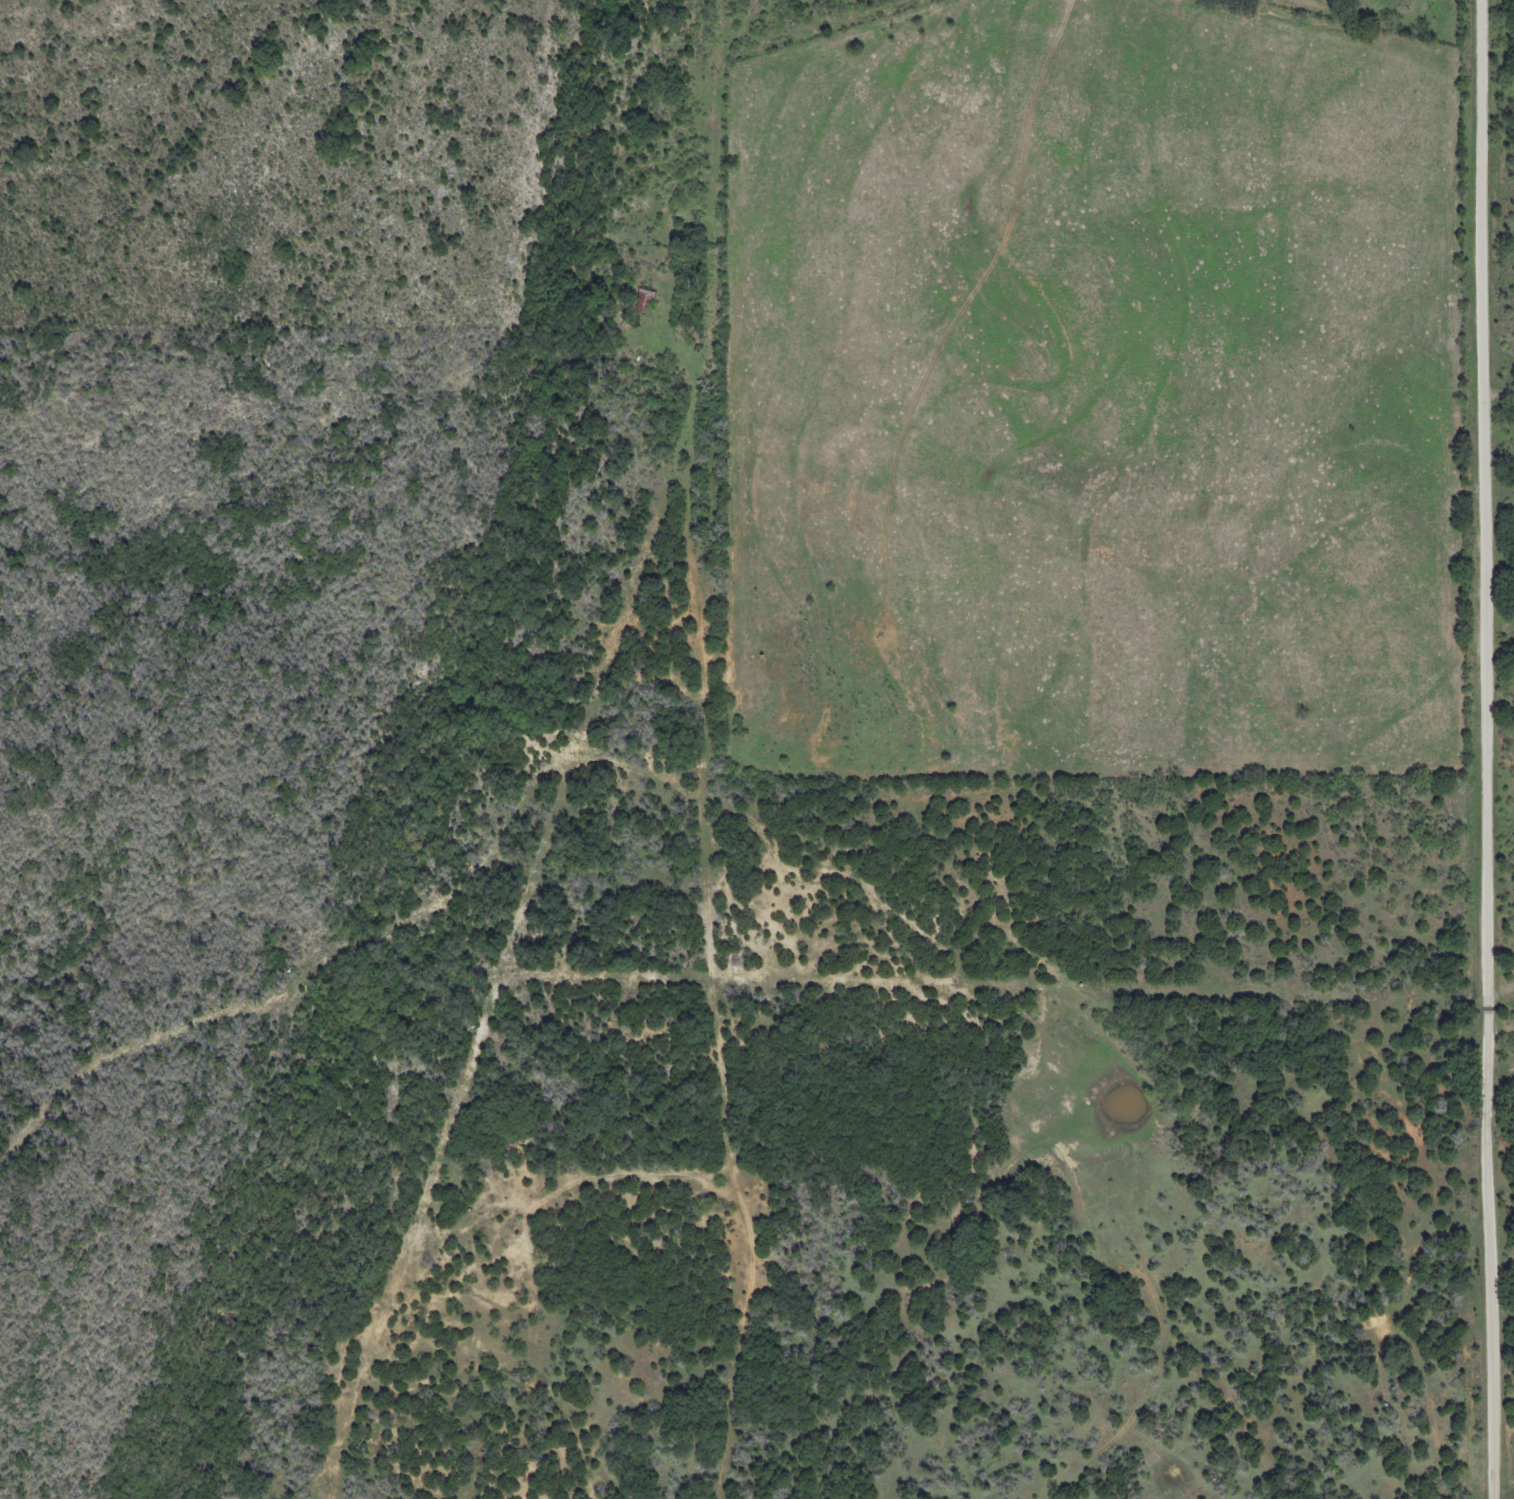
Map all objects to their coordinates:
road: (1486, 749)

